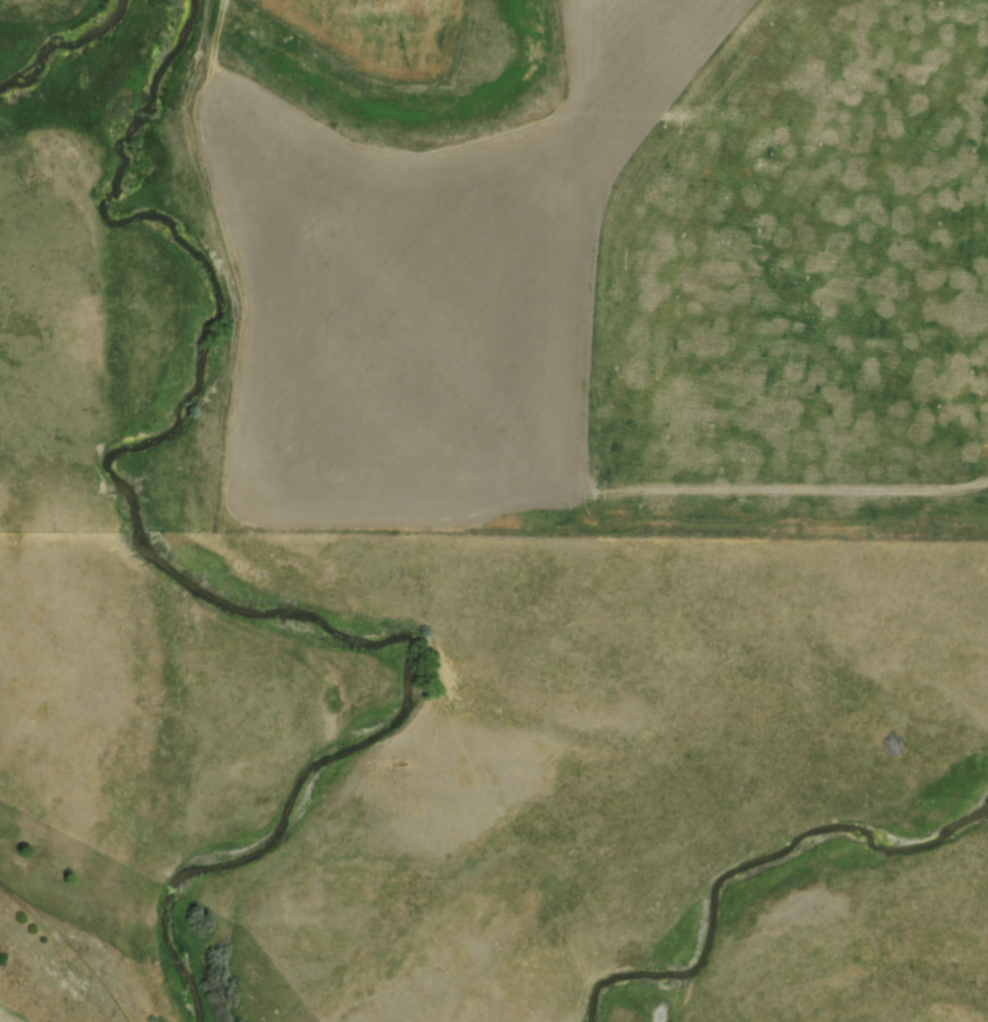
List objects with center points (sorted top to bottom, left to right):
crop: (373, 30)
crop: (634, 281)

